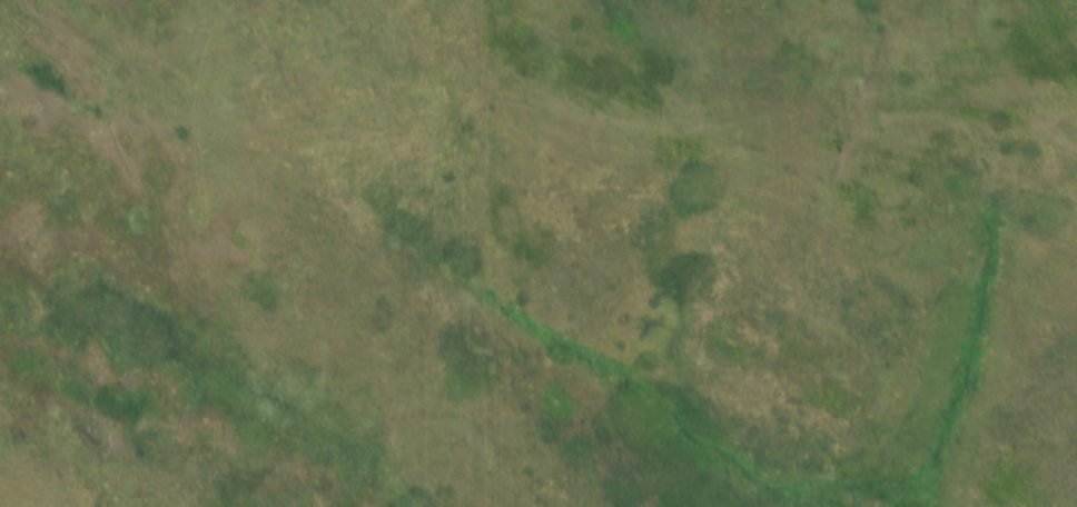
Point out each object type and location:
road: (809, 120)

